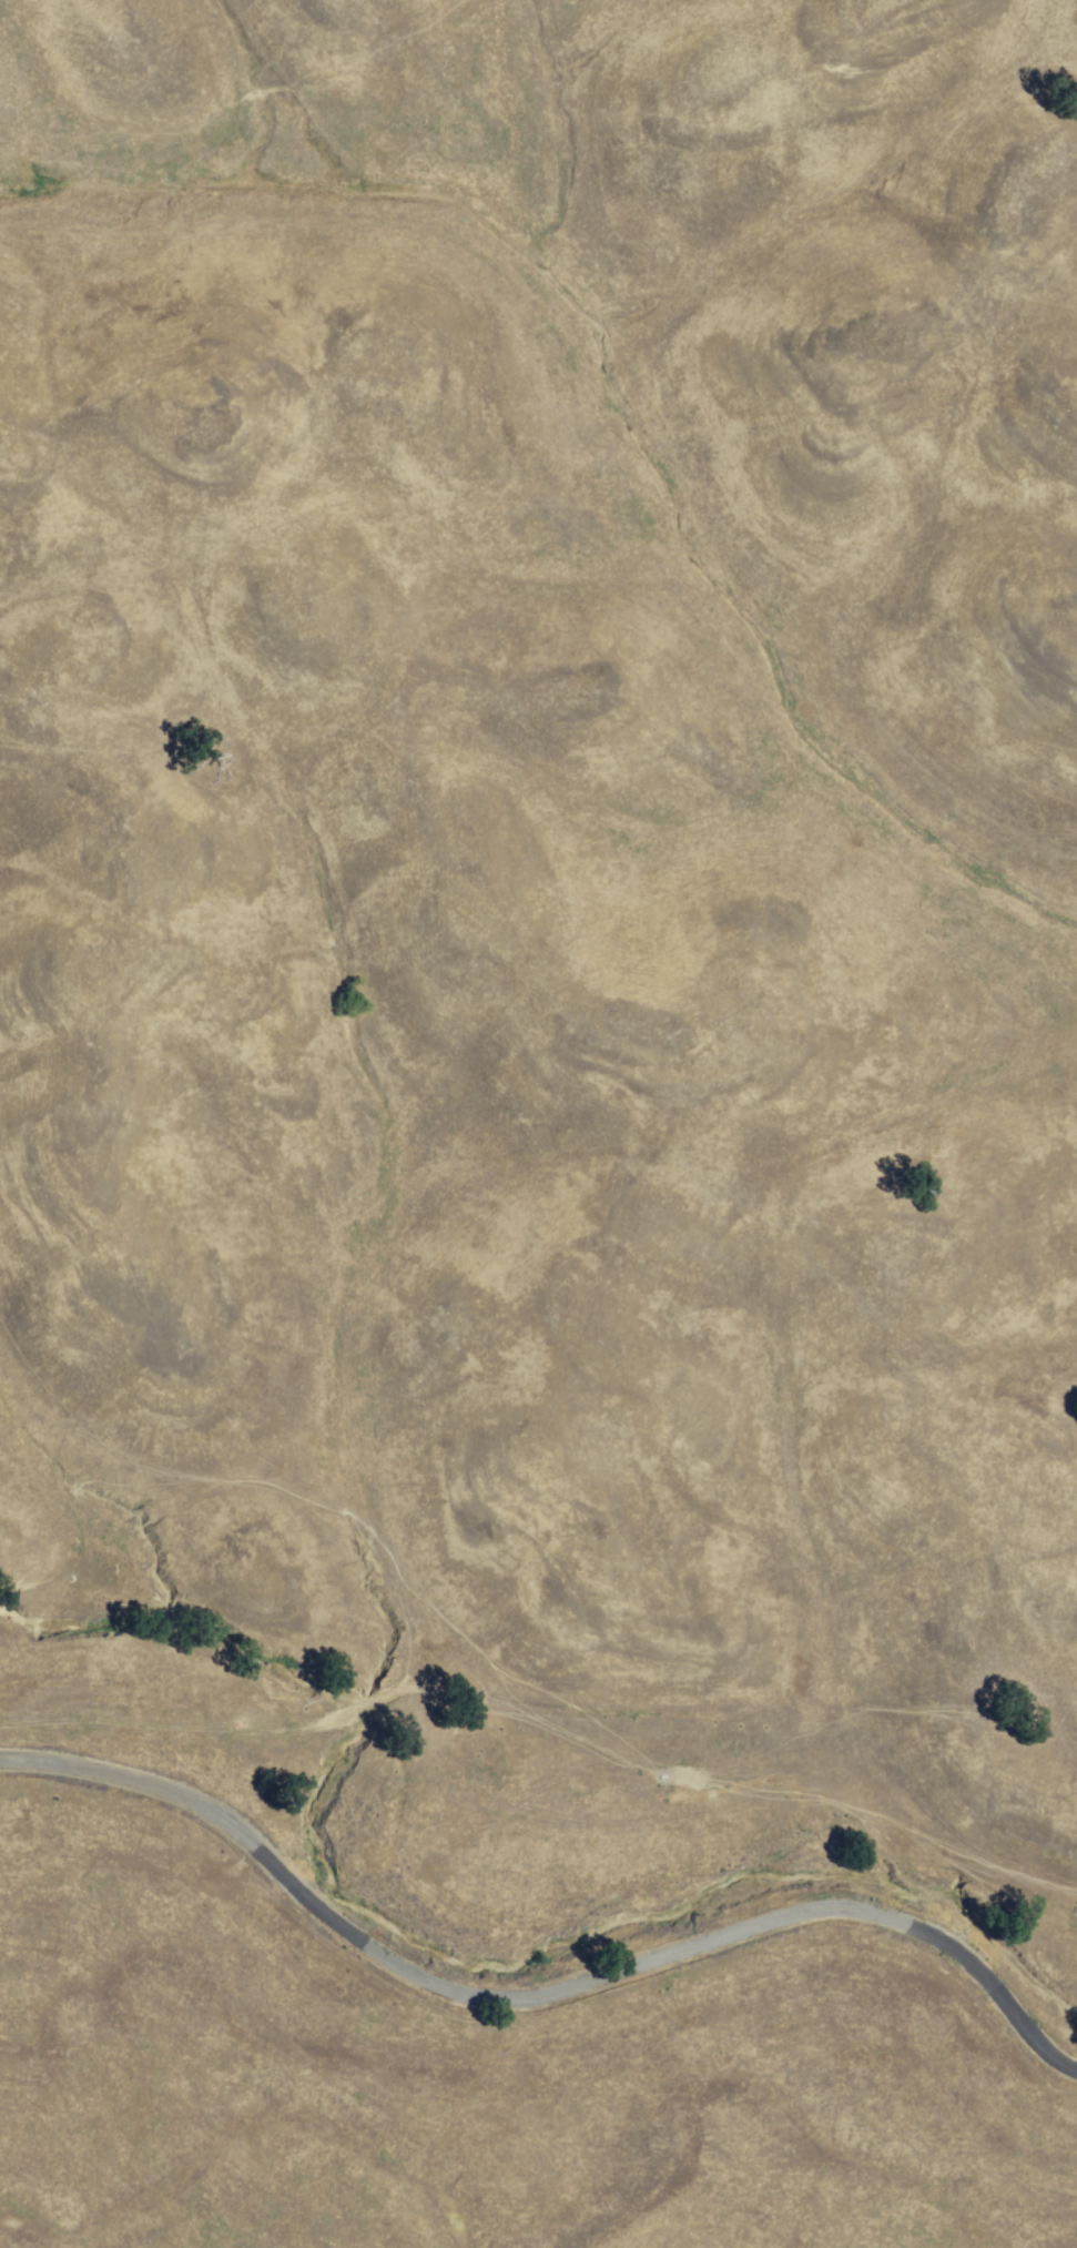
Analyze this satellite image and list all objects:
road: (539, 1996)

